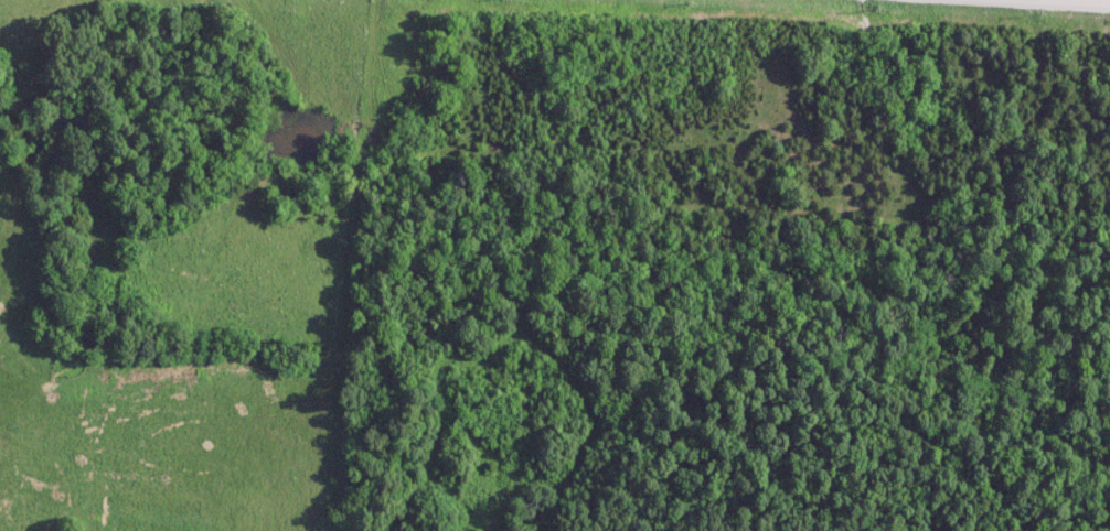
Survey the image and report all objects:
road: (1047, 2)
road: (1025, 3)

